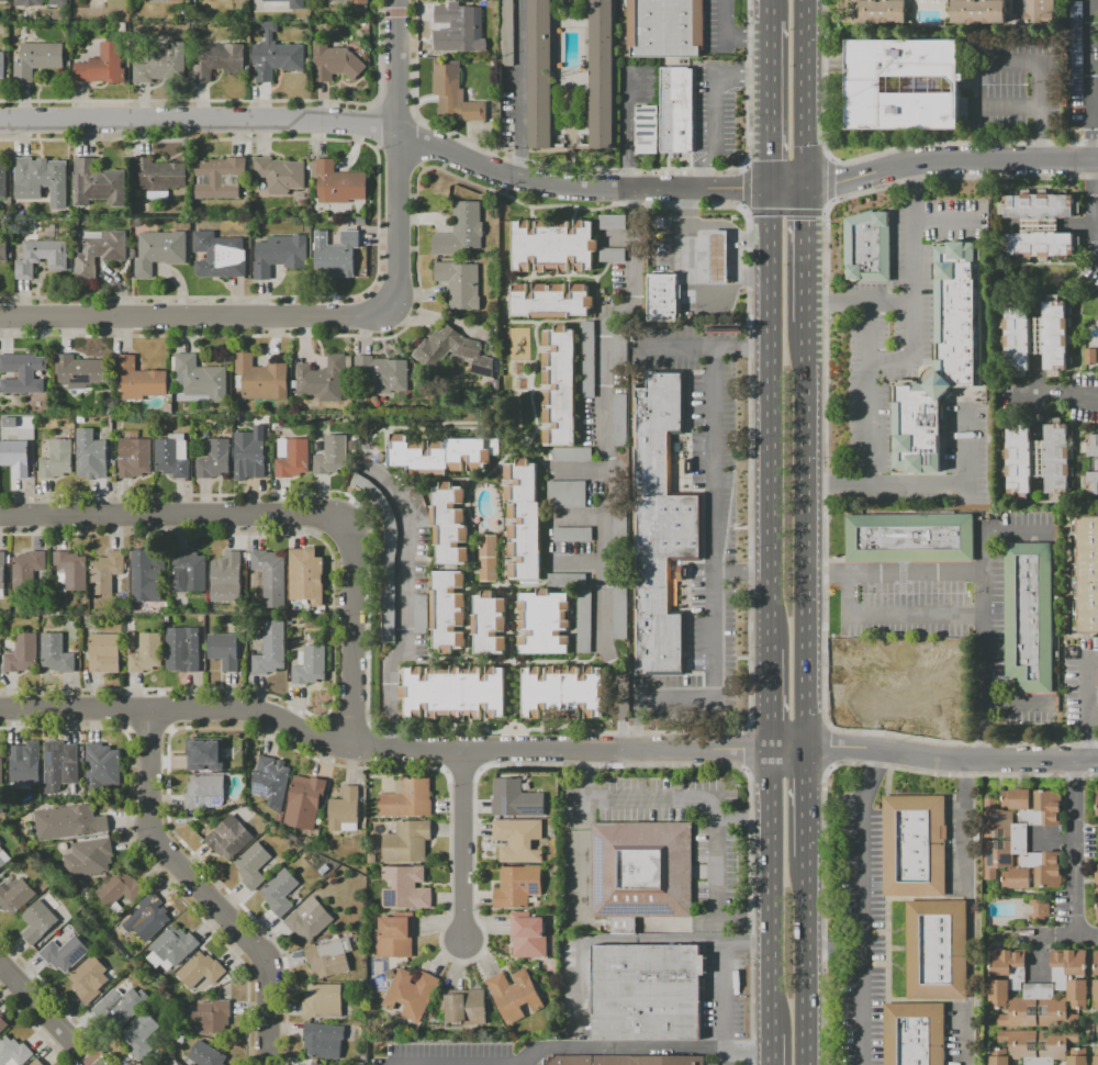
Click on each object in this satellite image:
building: (1, 1)
building: (177, 1)
building: (57, 2)
building: (358, 2)
building: (27, 3)
building: (292, 3)
road: (1018, 8)
road: (770, 10)
building: (879, 12)
building: (978, 12)
building: (1041, 12)
building: (183, 14)
building: (462, 26)
building: (122, 27)
building: (665, 29)
parking lot: (719, 29)
building: (506, 33)
road: (728, 36)
building: (276, 56)
building: (37, 60)
building: (219, 60)
building: (438, 61)
building: (334, 63)
building: (457, 63)
building: (161, 64)
building: (2, 66)
building: (102, 66)
building: (539, 74)
building: (601, 74)
parking lot: (1015, 83)
road: (1038, 83)
building: (903, 85)
road: (519, 89)
road: (804, 94)
building: (455, 97)
road: (770, 105)
road: (1004, 107)
road: (715, 108)
building: (676, 110)
parking lot: (713, 115)
road: (200, 122)
road: (1093, 127)
building: (647, 130)
road: (626, 133)
road: (884, 152)
road: (396, 155)
road: (949, 160)
traffic signals: (770, 161)
road: (601, 171)
building: (43, 176)
building: (283, 176)
building: (163, 178)
building: (222, 179)
building: (4, 181)
traffic signals: (836, 183)
building: (100, 186)
building: (341, 186)
road: (742, 189)
road: (595, 191)
traffic signals: (742, 191)
building: (1039, 205)
traffic signals: (804, 221)
road: (942, 221)
building: (661, 223)
building: (615, 224)
building: (1039, 225)
road: (730, 229)
building: (463, 232)
building: (1040, 245)
building: (556, 247)
building: (867, 247)
building: (4, 251)
building: (164, 253)
building: (102, 254)
building: (283, 256)
road: (804, 256)
building: (221, 257)
building: (338, 257)
building: (615, 257)
building: (45, 258)
building: (719, 258)
gas station: (696, 266)
road: (753, 277)
building: (462, 285)
road: (696, 285)
building: (666, 300)
road: (889, 301)
building: (553, 302)
road: (198, 318)
building: (1037, 337)
road: (910, 341)
road: (703, 347)
building: (623, 350)
building: (457, 352)
building: (1089, 357)
building: (941, 358)
building: (590, 361)
parking lot: (909, 365)
building: (83, 373)
building: (24, 374)
building: (386, 377)
building: (204, 380)
building: (264, 380)
building: (327, 380)
building: (142, 381)
building: (562, 388)
road: (1067, 396)
building: (623, 421)
road: (769, 421)
building: (1090, 447)
road: (870, 455)
building: (574, 456)
building: (97, 457)
building: (136, 457)
building: (444, 457)
building: (18, 458)
building: (175, 458)
building: (334, 458)
building: (253, 459)
building: (295, 459)
building: (1037, 459)
building: (1056, 459)
building: (59, 461)
building: (217, 461)
building: (1017, 461)
road: (825, 464)
road: (610, 467)
road: (956, 483)
building: (1090, 483)
building: (569, 496)
road: (749, 501)
building: (422, 509)
road: (173, 518)
building: (526, 523)
building: (452, 526)
building: (661, 526)
building: (623, 530)
building: (575, 536)
road: (805, 537)
building: (909, 538)
building: (386, 557)
building: (492, 560)
building: (192, 571)
building: (31, 572)
road: (893, 572)
building: (72, 573)
building: (110, 573)
road: (740, 573)
building: (1087, 574)
building: (3, 575)
building: (150, 576)
building: (310, 578)
building: (273, 579)
building: (229, 580)
building: (570, 582)
road: (713, 587)
road: (405, 603)
parking lot: (951, 607)
road: (983, 612)
building: (451, 613)
building: (623, 615)
road: (895, 615)
building: (423, 616)
building: (1029, 616)
building: (586, 623)
building: (546, 624)
building: (492, 625)
road: (348, 631)
building: (132, 642)
road: (889, 647)
building: (273, 650)
building: (186, 651)
building: (226, 651)
building: (107, 654)
building: (149, 654)
building: (24, 655)
building: (58, 655)
road: (847, 660)
road: (858, 660)
road: (890, 660)
building: (893, 664)
road: (937, 665)
building: (312, 666)
building: (873, 675)
gas station: (899, 686)
road: (906, 691)
building: (457, 694)
building: (565, 694)
road: (862, 699)
road: (769, 702)
road: (1021, 703)
building: (906, 704)
road: (1087, 708)
road: (177, 711)
road: (941, 719)
road: (825, 748)
road: (740, 749)
road: (576, 753)
building: (210, 756)
road: (951, 759)
building: (61, 765)
building: (25, 767)
building: (2, 769)
building: (104, 769)
road: (824, 782)
building: (273, 783)
building: (208, 794)
building: (410, 800)
building: (518, 801)
building: (1097, 803)
road: (805, 805)
building: (1035, 806)
building: (307, 807)
building: (347, 812)
building: (71, 823)
road: (749, 825)
building: (1097, 829)
building: (232, 839)
building: (1001, 839)
building: (522, 841)
building: (410, 843)
road: (717, 845)
building: (914, 847)
road: (460, 849)
parking lot: (716, 849)
building: (4, 859)
road: (1076, 859)
building: (90, 860)
building: (373, 860)
building: (256, 867)
building: (1018, 871)
building: (641, 872)
building: (1096, 881)
building: (520, 888)
road: (200, 889)
building: (408, 890)
building: (121, 892)
road: (766, 893)
building: (282, 894)
building: (18, 898)
road: (862, 905)
building: (1039, 910)
building: (1097, 911)
building: (154, 919)
building: (313, 921)
building: (41, 923)
road: (612, 923)
parking lot: (862, 934)
road: (1041, 935)
building: (399, 938)
building: (530, 938)
road: (746, 944)
building: (173, 950)
building: (937, 950)
building: (67, 955)
building: (332, 960)
road: (805, 961)
building: (1096, 962)
park: (379, 968)
building: (203, 972)
building: (1006, 975)
building: (1060, 978)
building: (90, 980)
building: (647, 993)
parking lot: (724, 993)
building: (1095, 994)
building: (414, 996)
building: (517, 996)
building: (325, 1002)
building: (467, 1008)
building: (123, 1009)
building: (1039, 1009)
road: (45, 1016)
building: (213, 1019)
building: (2, 1022)
building: (915, 1034)
road: (964, 1034)
building: (143, 1036)
building: (326, 1042)
building: (1039, 1045)
road: (640, 1047)
road: (764, 1049)
building: (14, 1053)
building: (208, 1055)
parking lot: (447, 1055)
building: (998, 1056)
building: (1078, 1056)
building: (1096, 1057)
building: (625, 1061)
parking lot: (726, 1062)
building: (32, 1063)
building: (38, 1063)
building: (316, 1064)

